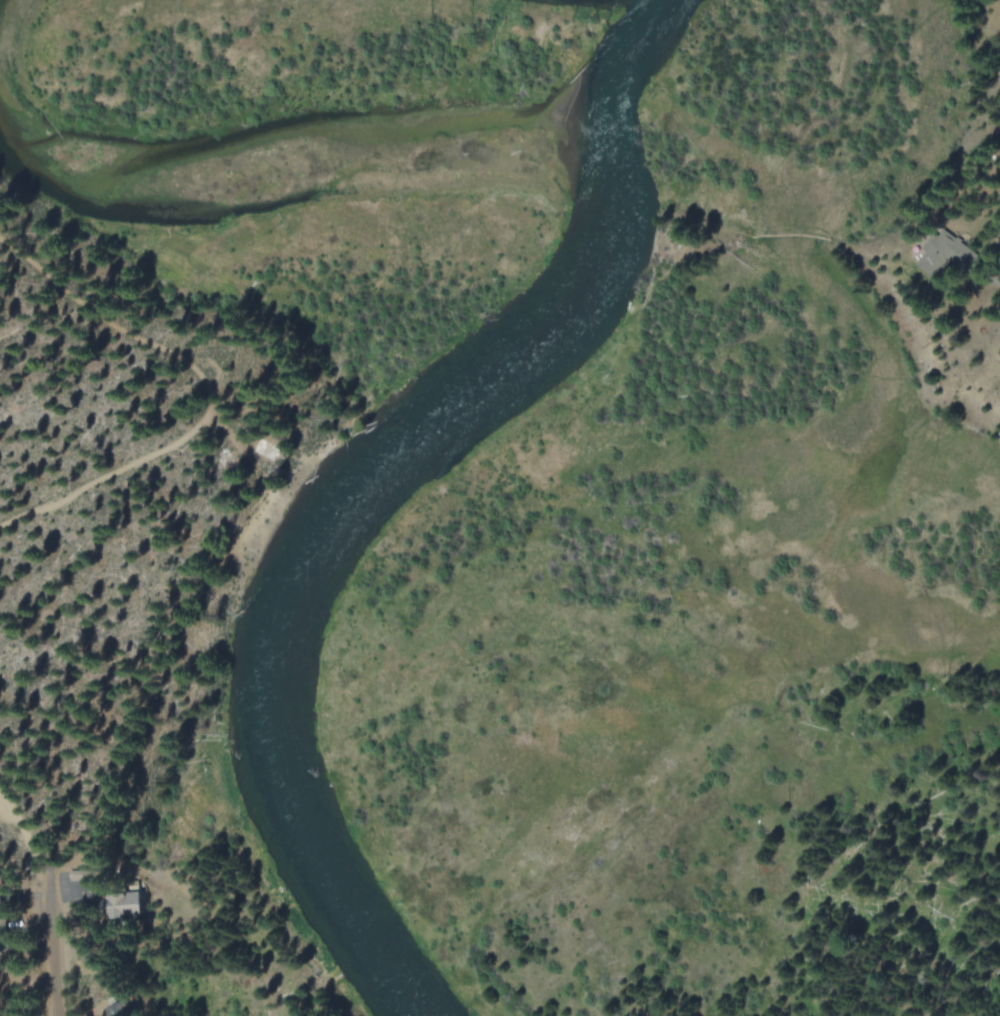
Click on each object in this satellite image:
road: (836, 240)
building: (956, 250)
road: (211, 393)
road: (230, 439)
river: (371, 477)
road: (22, 830)
building: (128, 902)
road: (49, 944)

